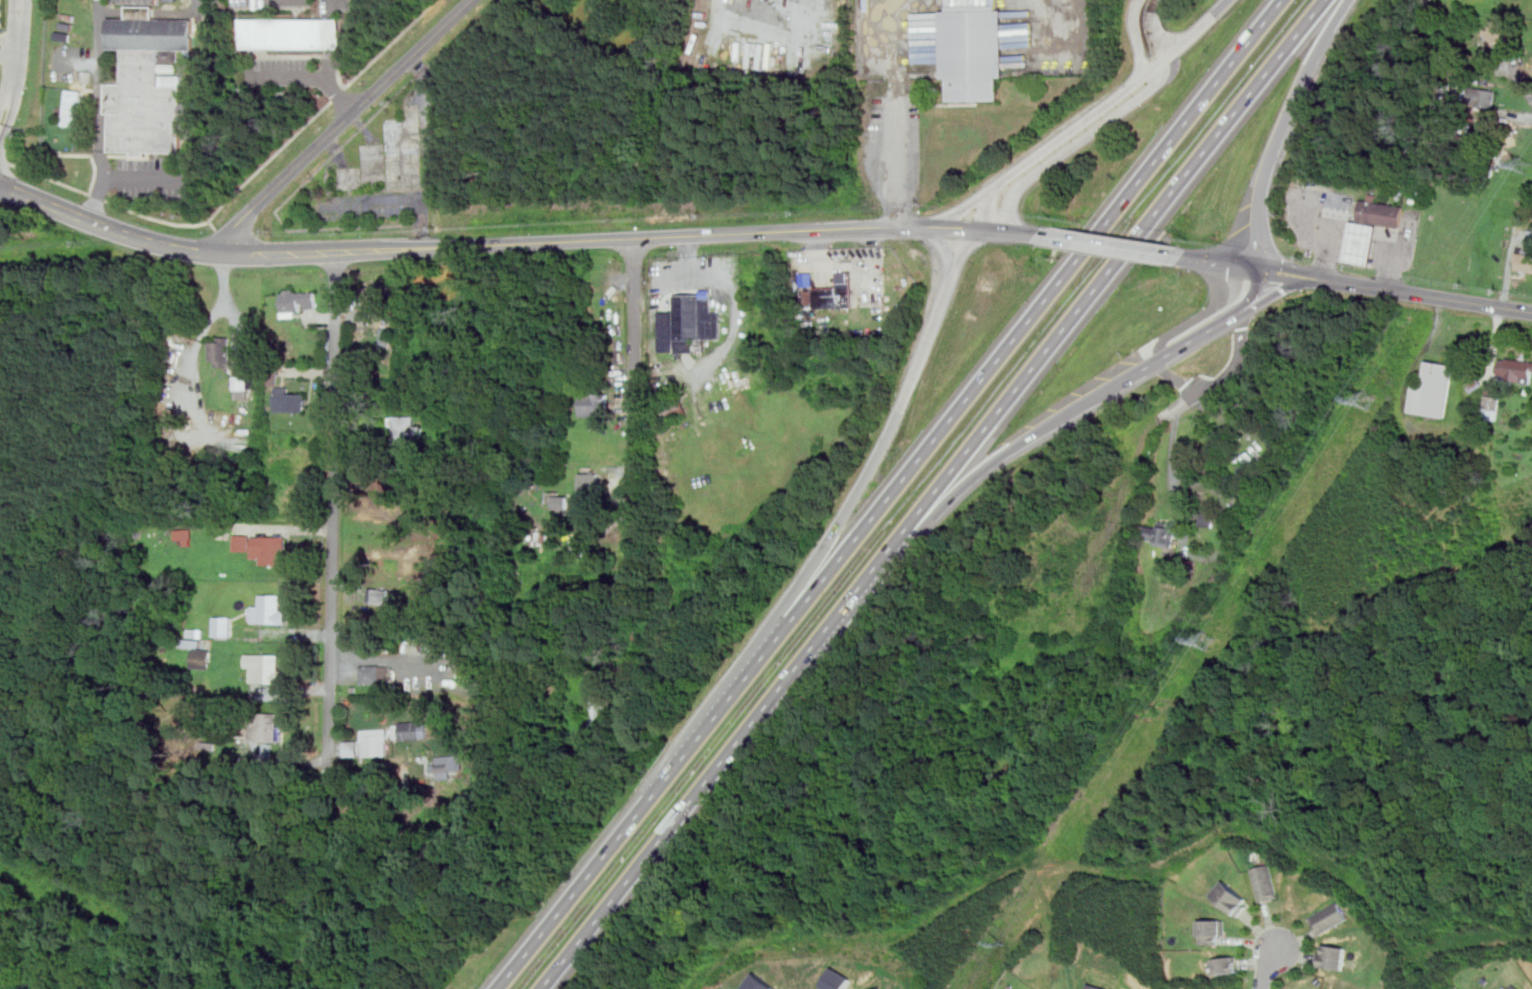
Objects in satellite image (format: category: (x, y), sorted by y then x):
road: (330, 10)
building: (66, 27)
road: (1154, 28)
road: (1198, 28)
wastewater plant: (5, 31)
building: (1495, 33)
building: (291, 34)
road: (330, 34)
building: (79, 36)
road: (1136, 36)
building: (63, 37)
road: (897, 39)
road: (16, 45)
road: (393, 45)
building: (973, 52)
building: (169, 57)
road: (1164, 60)
road: (330, 66)
road: (419, 67)
road: (312, 75)
road: (1520, 78)
building: (145, 85)
road: (99, 88)
road: (339, 97)
building: (1482, 99)
road: (5, 102)
building: (74, 107)
road: (11, 113)
road: (343, 122)
road: (363, 124)
road: (1282, 128)
building: (60, 139)
road: (1076, 142)
road: (1050, 145)
road: (337, 151)
road: (896, 152)
road: (5, 162)
power tower: (1527, 167)
road: (145, 178)
road: (295, 194)
road: (97, 197)
road: (401, 200)
building: (1418, 202)
road: (983, 208)
building: (1383, 214)
road: (189, 224)
road: (966, 227)
road: (989, 229)
road: (219, 232)
road: (1027, 233)
street lamp: (1419, 240)
road: (1362, 241)
building: (1360, 244)
gas station: (1360, 244)
road: (473, 245)
road: (942, 245)
road: (1111, 246)
building: (1523, 260)
road: (1216, 262)
traffic signals: (1229, 265)
road: (1282, 273)
traffic signals: (1282, 273)
building: (807, 280)
road: (1373, 287)
road: (1253, 290)
road: (1236, 292)
building: (833, 293)
building: (375, 295)
road: (1275, 295)
road: (228, 300)
building: (722, 301)
building: (297, 302)
road: (1486, 305)
road: (1437, 314)
road: (1031, 315)
building: (688, 324)
building: (383, 334)
road: (1197, 337)
building: (221, 353)
road: (1224, 357)
road: (1240, 361)
building: (1516, 369)
road: (1176, 377)
building: (242, 382)
building: (1433, 390)
building: (290, 400)
power tower: (1368, 404)
building: (1492, 404)
building: (595, 405)
road: (1179, 405)
road: (634, 407)
building: (674, 409)
building: (408, 429)
road: (890, 435)
road: (1013, 447)
road: (1174, 473)
building: (589, 482)
road: (932, 493)
building: (558, 500)
road: (336, 506)
building: (1208, 518)
building: (1160, 534)
building: (183, 535)
building: (242, 542)
building: (269, 549)
building: (379, 596)
building: (268, 610)
building: (222, 625)
road: (635, 645)
power tower: (1200, 647)
building: (198, 653)
building: (263, 668)
building: (375, 674)
road: (742, 682)
building: (594, 716)
building: (262, 727)
building: (413, 730)
building: (369, 743)
road: (289, 761)
building: (448, 765)
road: (329, 775)
building: (270, 829)
road: (600, 861)
building: (1266, 882)
building: (1231, 897)
building: (1329, 918)
building: (1213, 931)
building: (1334, 956)
building: (1227, 964)
road: (1272, 970)
building: (837, 980)
building: (760, 983)
building: (1097, 986)
building: (1516, 987)
building: (881, 988)

